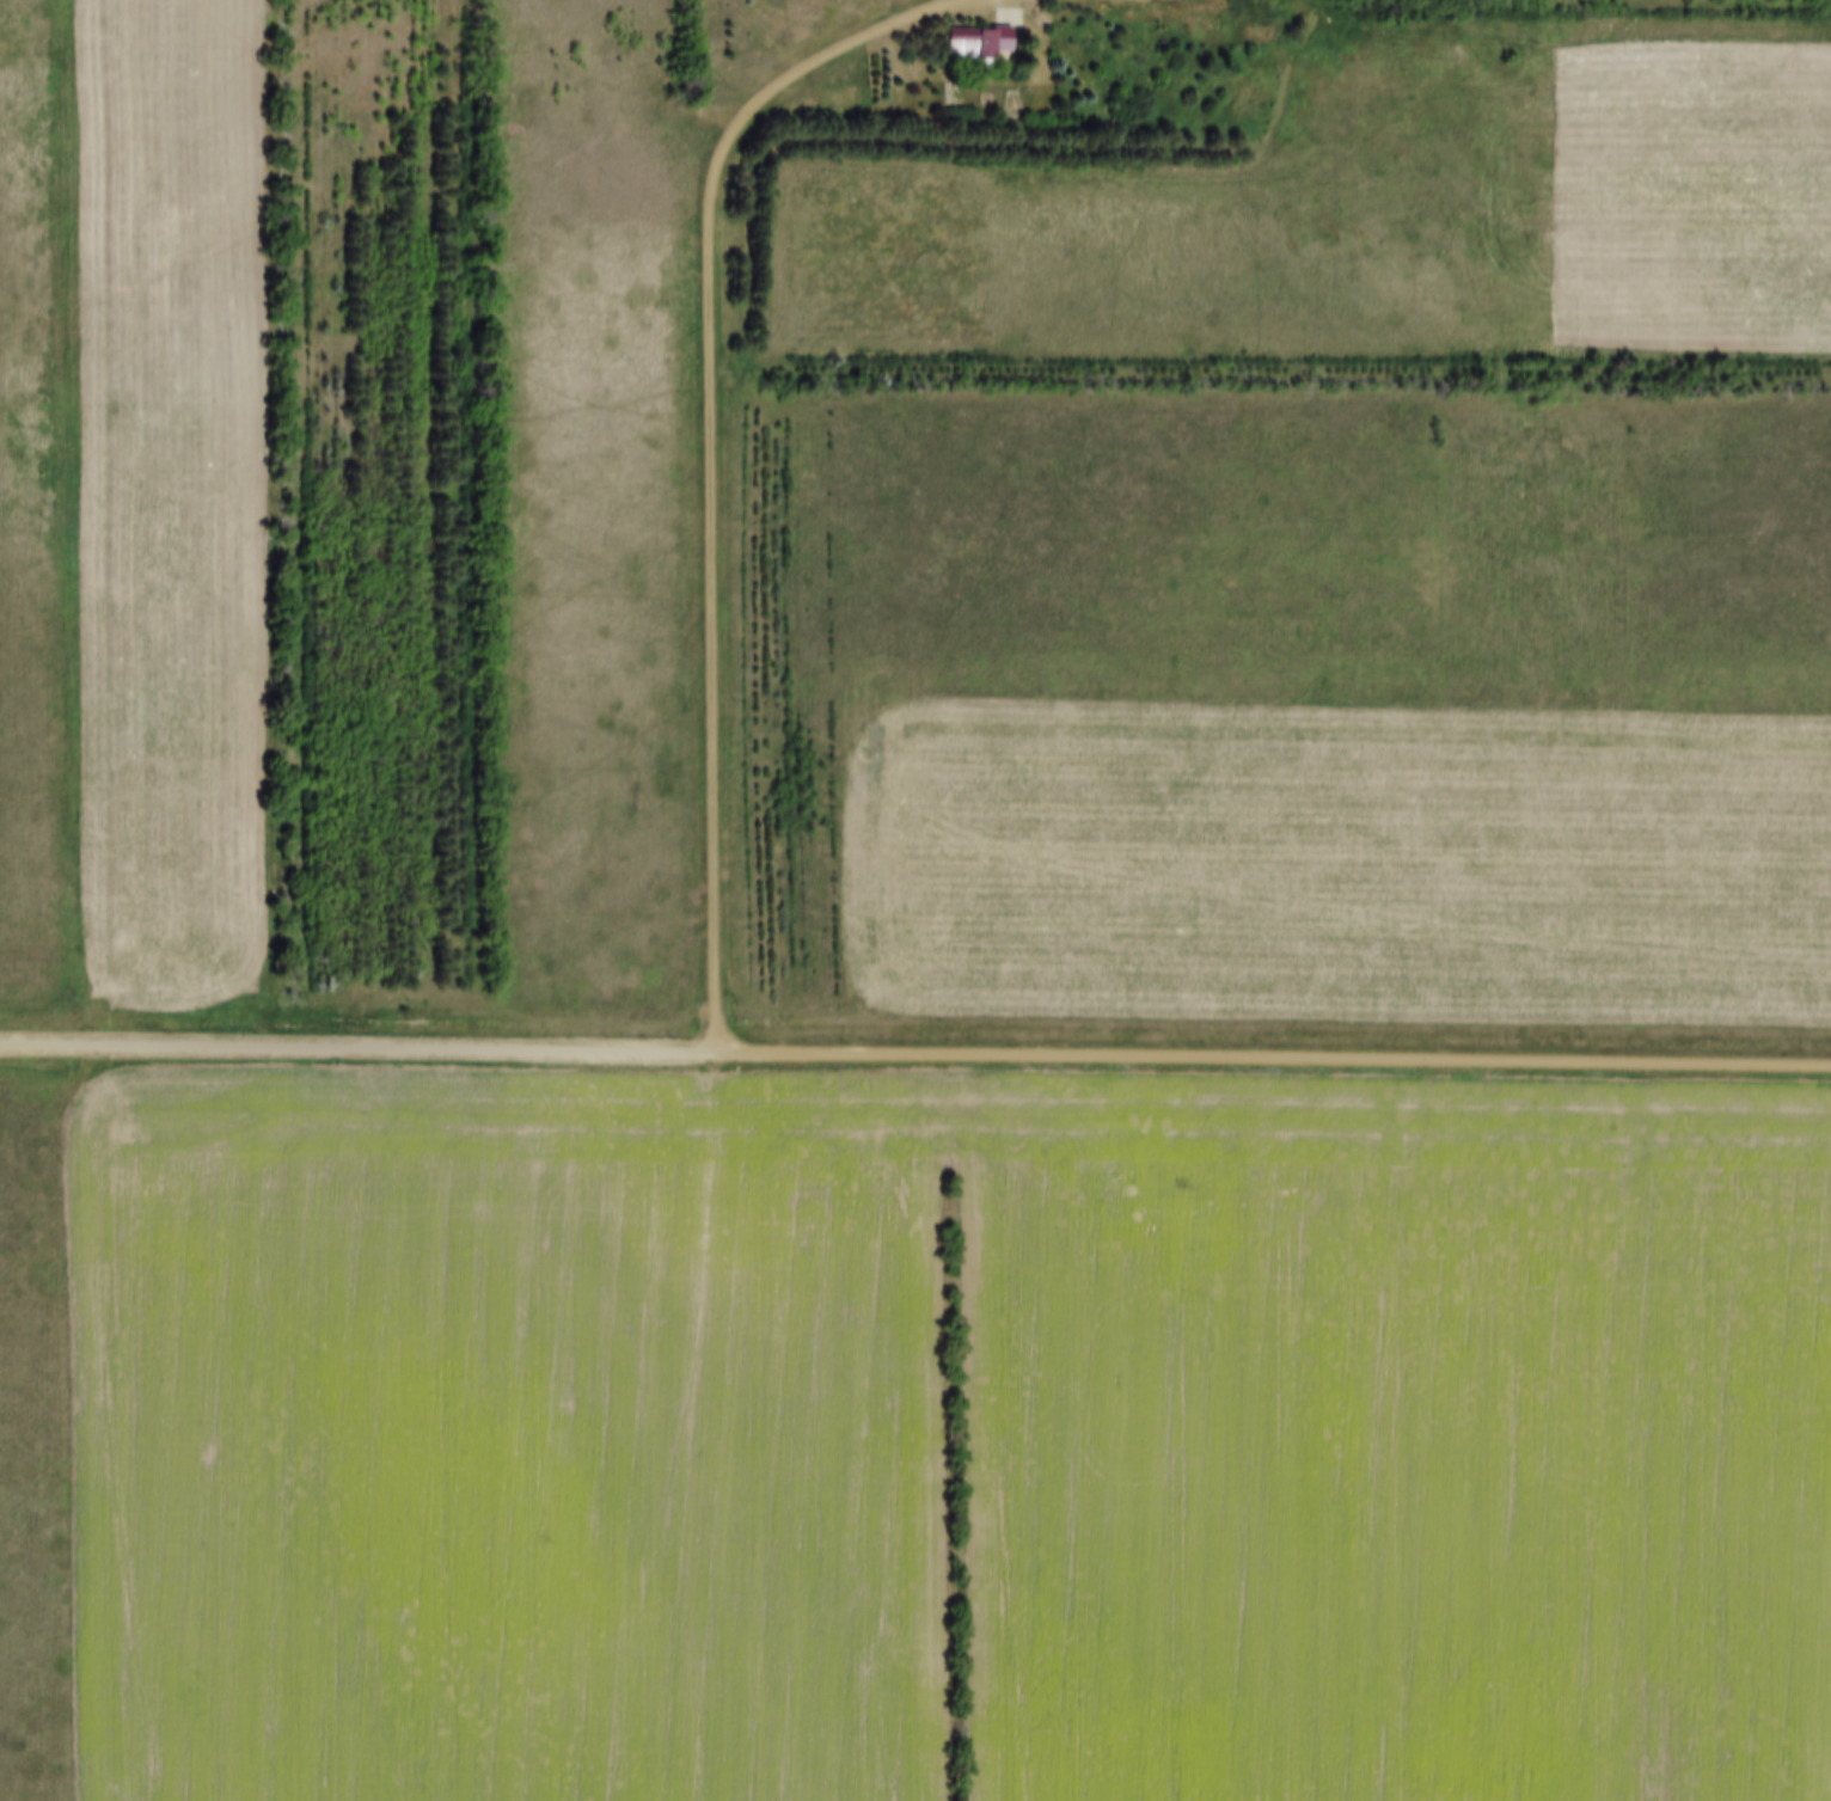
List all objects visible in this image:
building: (986, 39)
road: (704, 74)
road: (712, 452)
road: (915, 1059)

